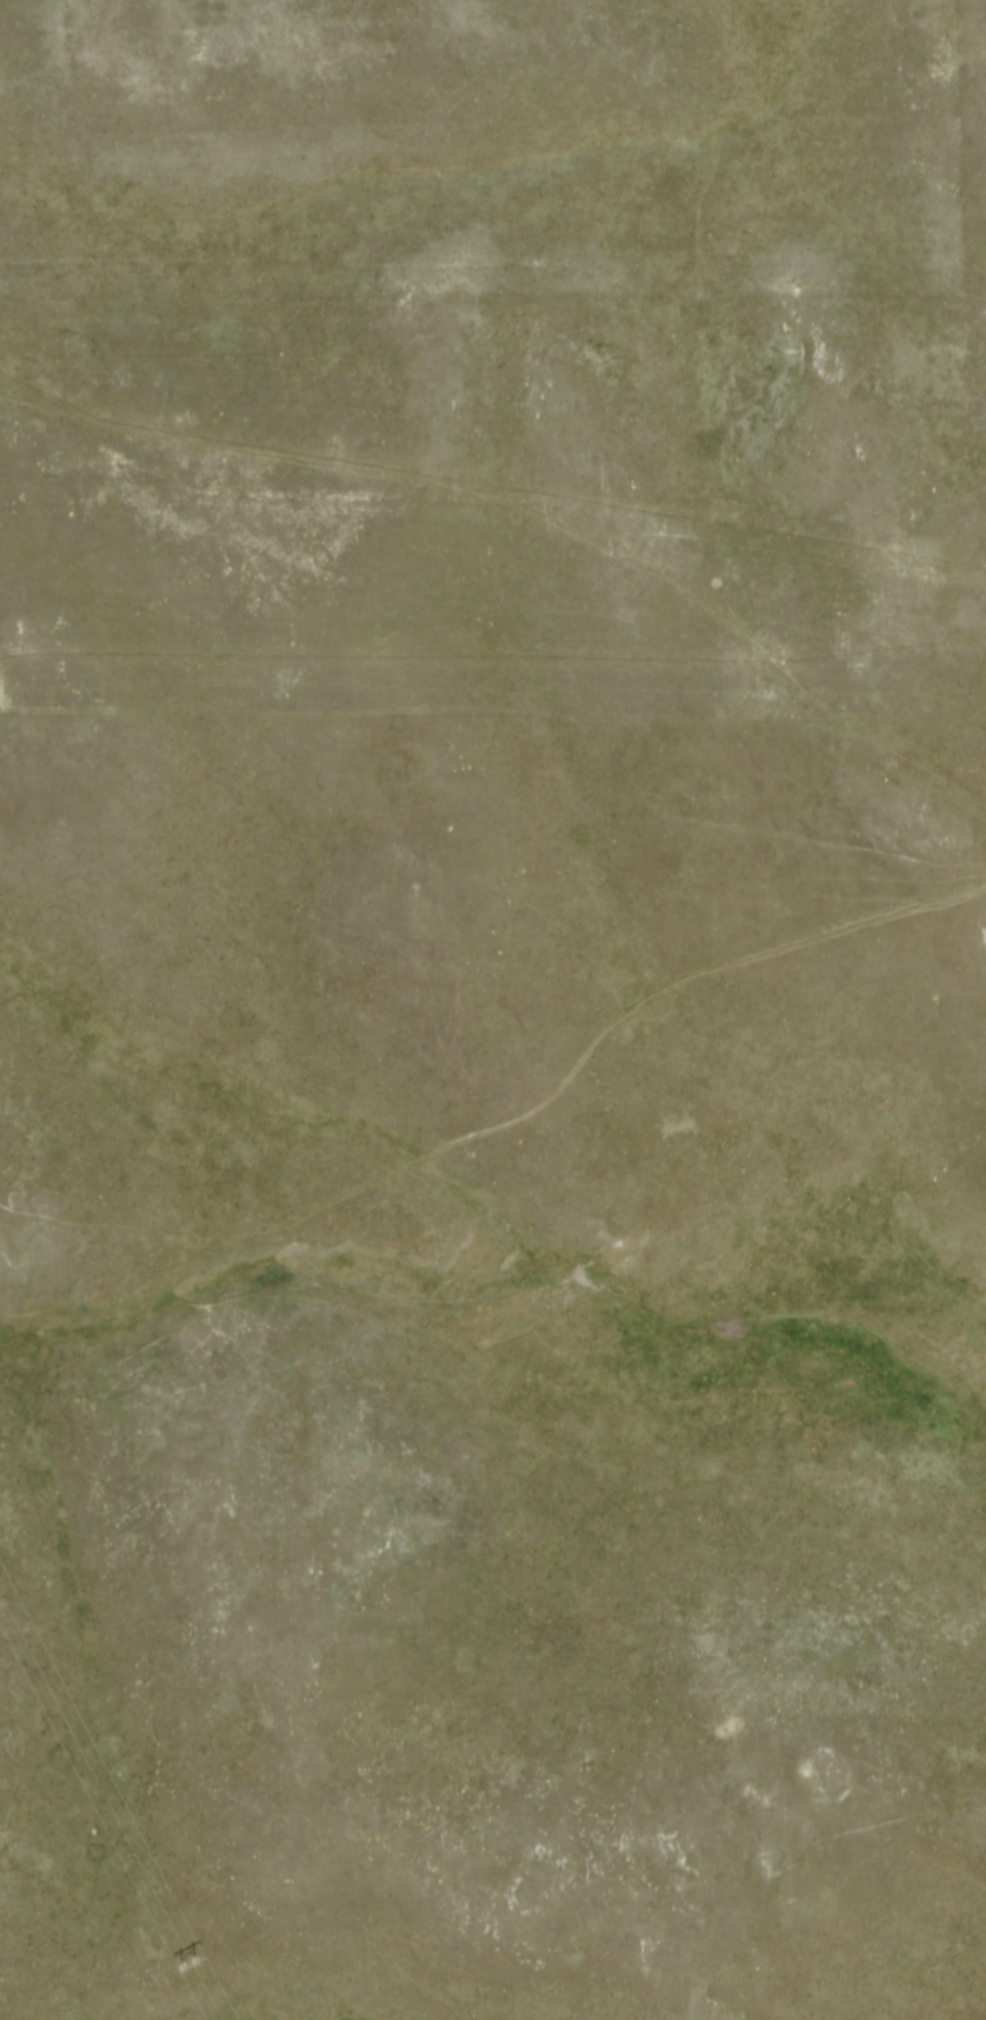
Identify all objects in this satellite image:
power tower: (185, 1965)

